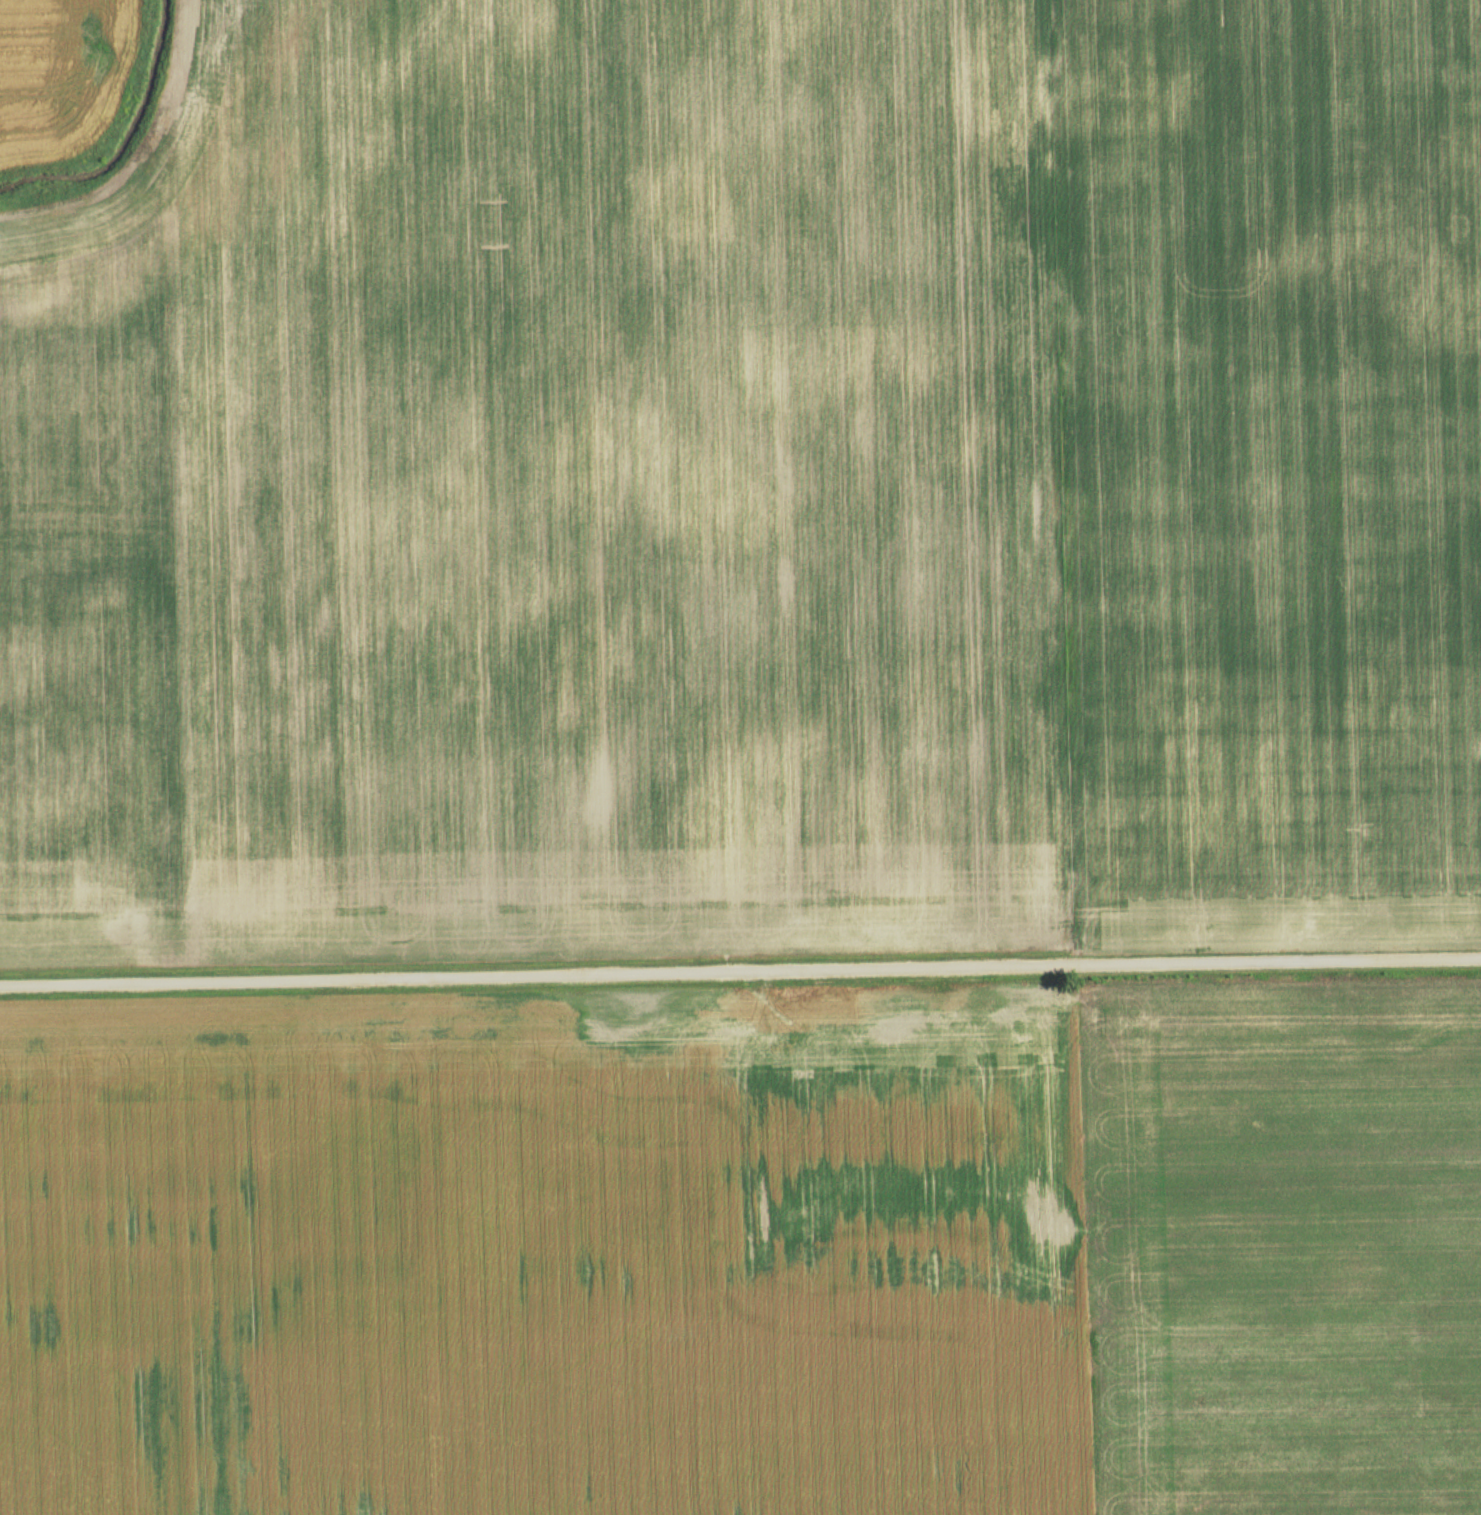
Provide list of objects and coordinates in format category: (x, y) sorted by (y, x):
road: (740, 971)

